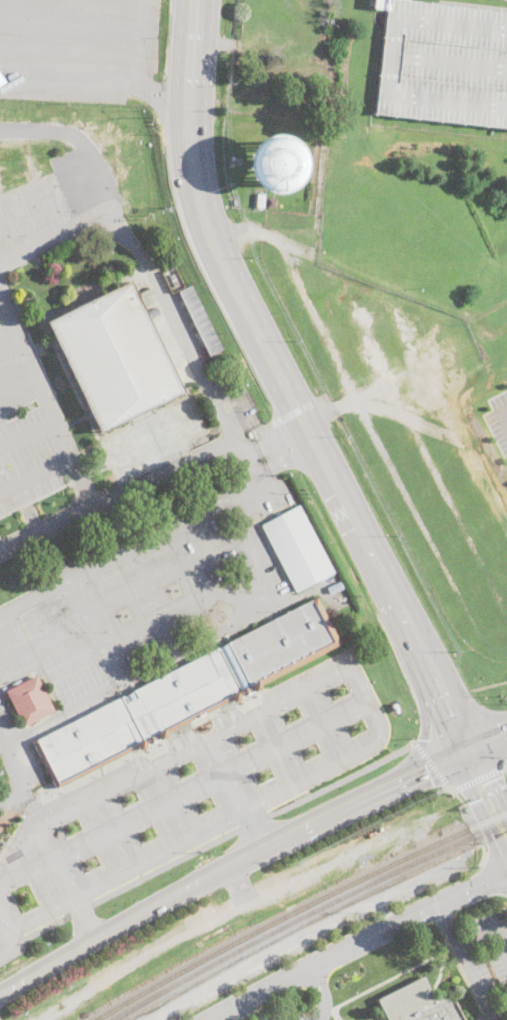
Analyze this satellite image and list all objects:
road: (71, 26)
road: (141, 43)
road: (70, 48)
parking lot: (78, 49)
building: (442, 62)
parking garage: (442, 62)
road: (69, 82)
road: (165, 94)
road: (80, 141)
building: (274, 163)
water tower: (278, 168)
building: (7, 202)
building: (272, 203)
road: (55, 244)
building: (144, 290)
building: (152, 309)
building: (200, 320)
road: (181, 332)
road: (10, 339)
building: (115, 357)
road: (19, 383)
road: (285, 387)
road: (47, 394)
building: (234, 404)
road: (295, 410)
building: (249, 412)
road: (505, 415)
road: (29, 433)
road: (277, 442)
building: (130, 452)
road: (281, 453)
road: (249, 461)
road: (37, 475)
road: (121, 492)
road: (130, 548)
building: (298, 550)
road: (53, 556)
building: (334, 586)
road: (330, 676)
building: (186, 692)
building: (29, 701)
traffic signals: (449, 714)
road: (494, 731)
traffic signals: (504, 735)
road: (487, 742)
road: (298, 743)
road: (431, 764)
road: (506, 767)
building: (1, 770)
traffic signals: (428, 770)
road: (478, 777)
road: (339, 778)
traffic signals: (482, 783)
road: (487, 795)
road: (83, 802)
building: (417, 818)
road: (471, 820)
road: (253, 821)
road: (117, 830)
road: (165, 865)
road: (230, 865)
road: (124, 868)
traffic signals: (487, 881)
road: (64, 883)
road: (237, 885)
railway: (296, 908)
railway: (305, 912)
parking lot: (217, 919)
road: (7, 924)
road: (205, 924)
road: (448, 926)
railway: (231, 937)
road: (359, 943)
road: (8, 946)
road: (465, 958)
road: (324, 991)
building: (416, 1004)
railway: (117, 1016)
building: (338, 1019)

